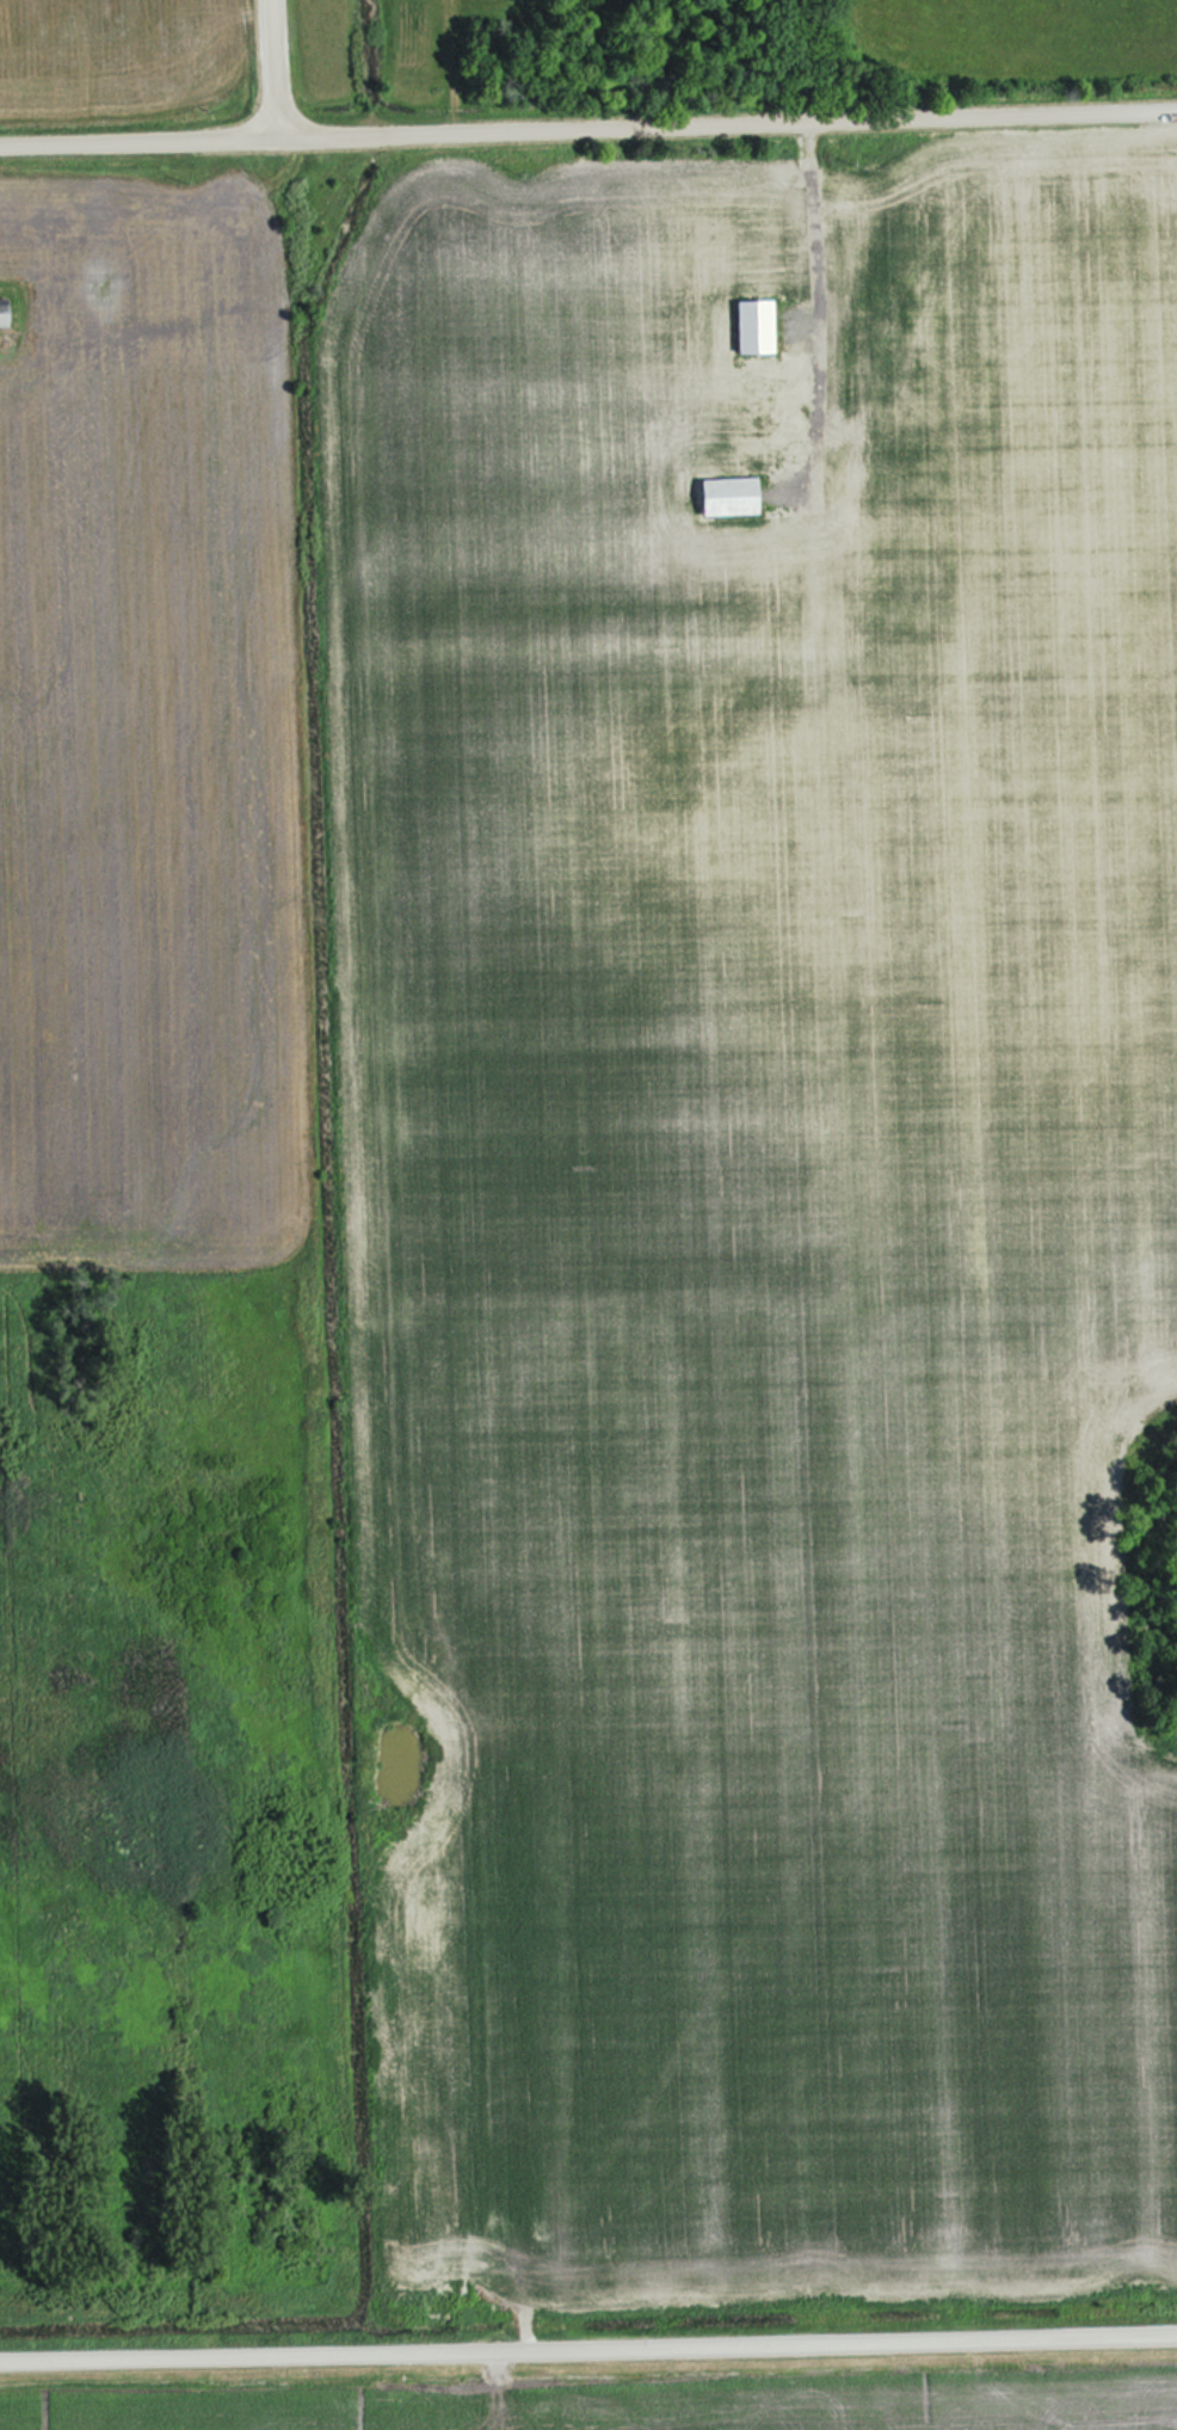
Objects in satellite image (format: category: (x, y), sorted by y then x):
road: (269, 67)
road: (587, 124)
road: (825, 310)
building: (10, 314)
building: (760, 326)
building: (735, 494)
road: (588, 2343)

